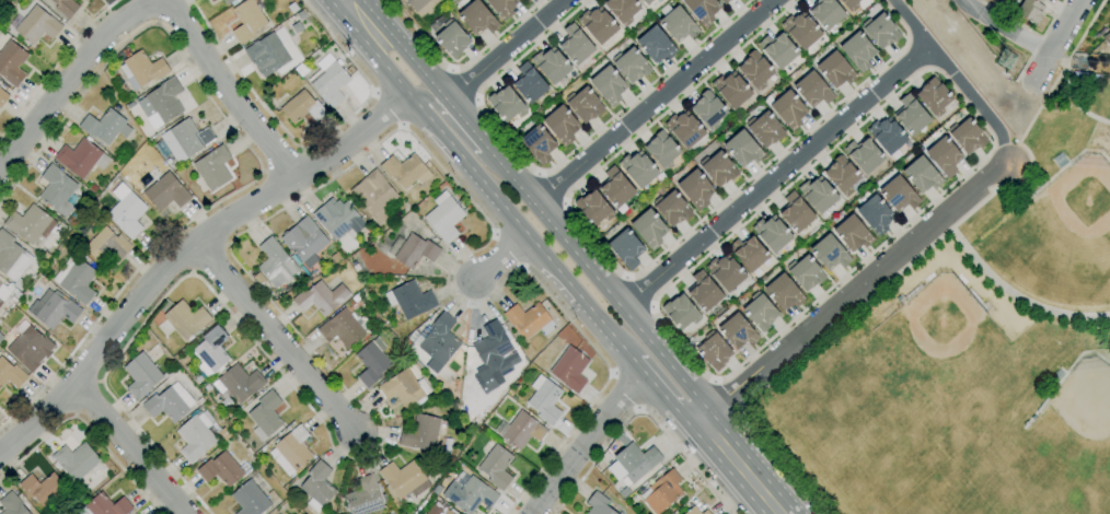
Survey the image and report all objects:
building: (730, 0)
building: (230, 1)
building: (647, 1)
building: (725, 1)
road: (155, 3)
building: (849, 4)
building: (66, 7)
building: (421, 7)
building: (502, 7)
building: (623, 10)
building: (702, 10)
building: (1030, 10)
building: (825, 13)
building: (477, 17)
building: (247, 21)
building: (678, 23)
building: (34, 25)
building: (598, 25)
building: (801, 30)
road: (1003, 30)
building: (1109, 30)
building: (880, 31)
road: (1042, 35)
road: (424, 38)
building: (452, 38)
building: (1107, 38)
road: (1053, 42)
building: (575, 45)
building: (656, 45)
road: (1076, 45)
building: (778, 49)
road: (507, 50)
building: (858, 50)
building: (267, 55)
power tower: (1006, 60)
building: (11, 62)
road: (55, 65)
building: (551, 65)
building: (631, 65)
building: (142, 69)
building: (300, 69)
building: (835, 70)
building: (756, 71)
road: (957, 79)
building: (328, 81)
road: (466, 82)
building: (529, 83)
building: (609, 84)
building: (731, 90)
building: (813, 90)
road: (1072, 93)
building: (934, 96)
building: (2, 97)
road: (652, 102)
building: (161, 103)
building: (507, 104)
building: (583, 104)
building: (302, 107)
road: (386, 108)
building: (708, 109)
building: (788, 109)
building: (911, 115)
road: (448, 119)
building: (562, 125)
building: (105, 126)
building: (684, 129)
building: (765, 129)
building: (887, 136)
building: (967, 136)
road: (506, 137)
building: (185, 140)
building: (539, 143)
road: (312, 147)
road: (248, 149)
building: (743, 149)
building: (662, 150)
building: (864, 154)
building: (944, 156)
building: (81, 157)
building: (213, 167)
building: (638, 168)
building: (718, 168)
building: (405, 171)
building: (842, 175)
building: (922, 175)
road: (774, 177)
road: (553, 185)
building: (616, 187)
building: (57, 189)
building: (696, 189)
building: (165, 192)
building: (818, 194)
building: (899, 195)
building: (373, 196)
road: (531, 202)
building: (593, 208)
building: (671, 208)
building: (126, 211)
building: (796, 212)
building: (875, 214)
building: (444, 217)
road: (511, 217)
building: (338, 219)
building: (30, 224)
building: (649, 229)
building: (772, 233)
building: (853, 233)
building: (305, 242)
park: (1062, 242)
building: (106, 245)
road: (185, 248)
building: (626, 248)
road: (230, 249)
building: (416, 252)
building: (749, 253)
building: (830, 253)
road: (500, 256)
building: (11, 257)
building: (276, 264)
building: (726, 272)
building: (806, 272)
road: (634, 273)
building: (74, 279)
road: (643, 290)
building: (5, 291)
building: (703, 291)
road: (852, 291)
building: (783, 292)
road: (1011, 293)
building: (321, 297)
building: (411, 300)
building: (53, 309)
building: (760, 311)
building: (681, 312)
building: (183, 320)
building: (529, 320)
building: (342, 329)
building: (737, 331)
building: (1, 338)
road: (276, 340)
building: (439, 342)
park: (939, 342)
road: (682, 344)
building: (28, 347)
building: (714, 350)
park: (972, 350)
building: (210, 353)
building: (493, 357)
building: (371, 362)
building: (569, 370)
building: (10, 374)
building: (141, 375)
building: (239, 383)
building: (403, 388)
road: (728, 394)
road: (622, 395)
building: (544, 399)
building: (169, 404)
road: (640, 411)
park: (1079, 413)
building: (265, 416)
road: (86, 428)
building: (520, 430)
building: (420, 433)
building: (195, 436)
road: (586, 440)
road: (131, 447)
building: (291, 451)
road: (774, 458)
building: (635, 459)
building: (76, 460)
road: (739, 466)
building: (496, 467)
building: (220, 469)
building: (406, 478)
building: (317, 486)
building: (43, 489)
building: (662, 492)
building: (469, 493)
building: (363, 497)
building: (250, 499)
building: (11, 504)
building: (598, 504)
building: (104, 505)
building: (690, 509)
building: (446, 512)
building: (705, 512)
building: (275, 513)

